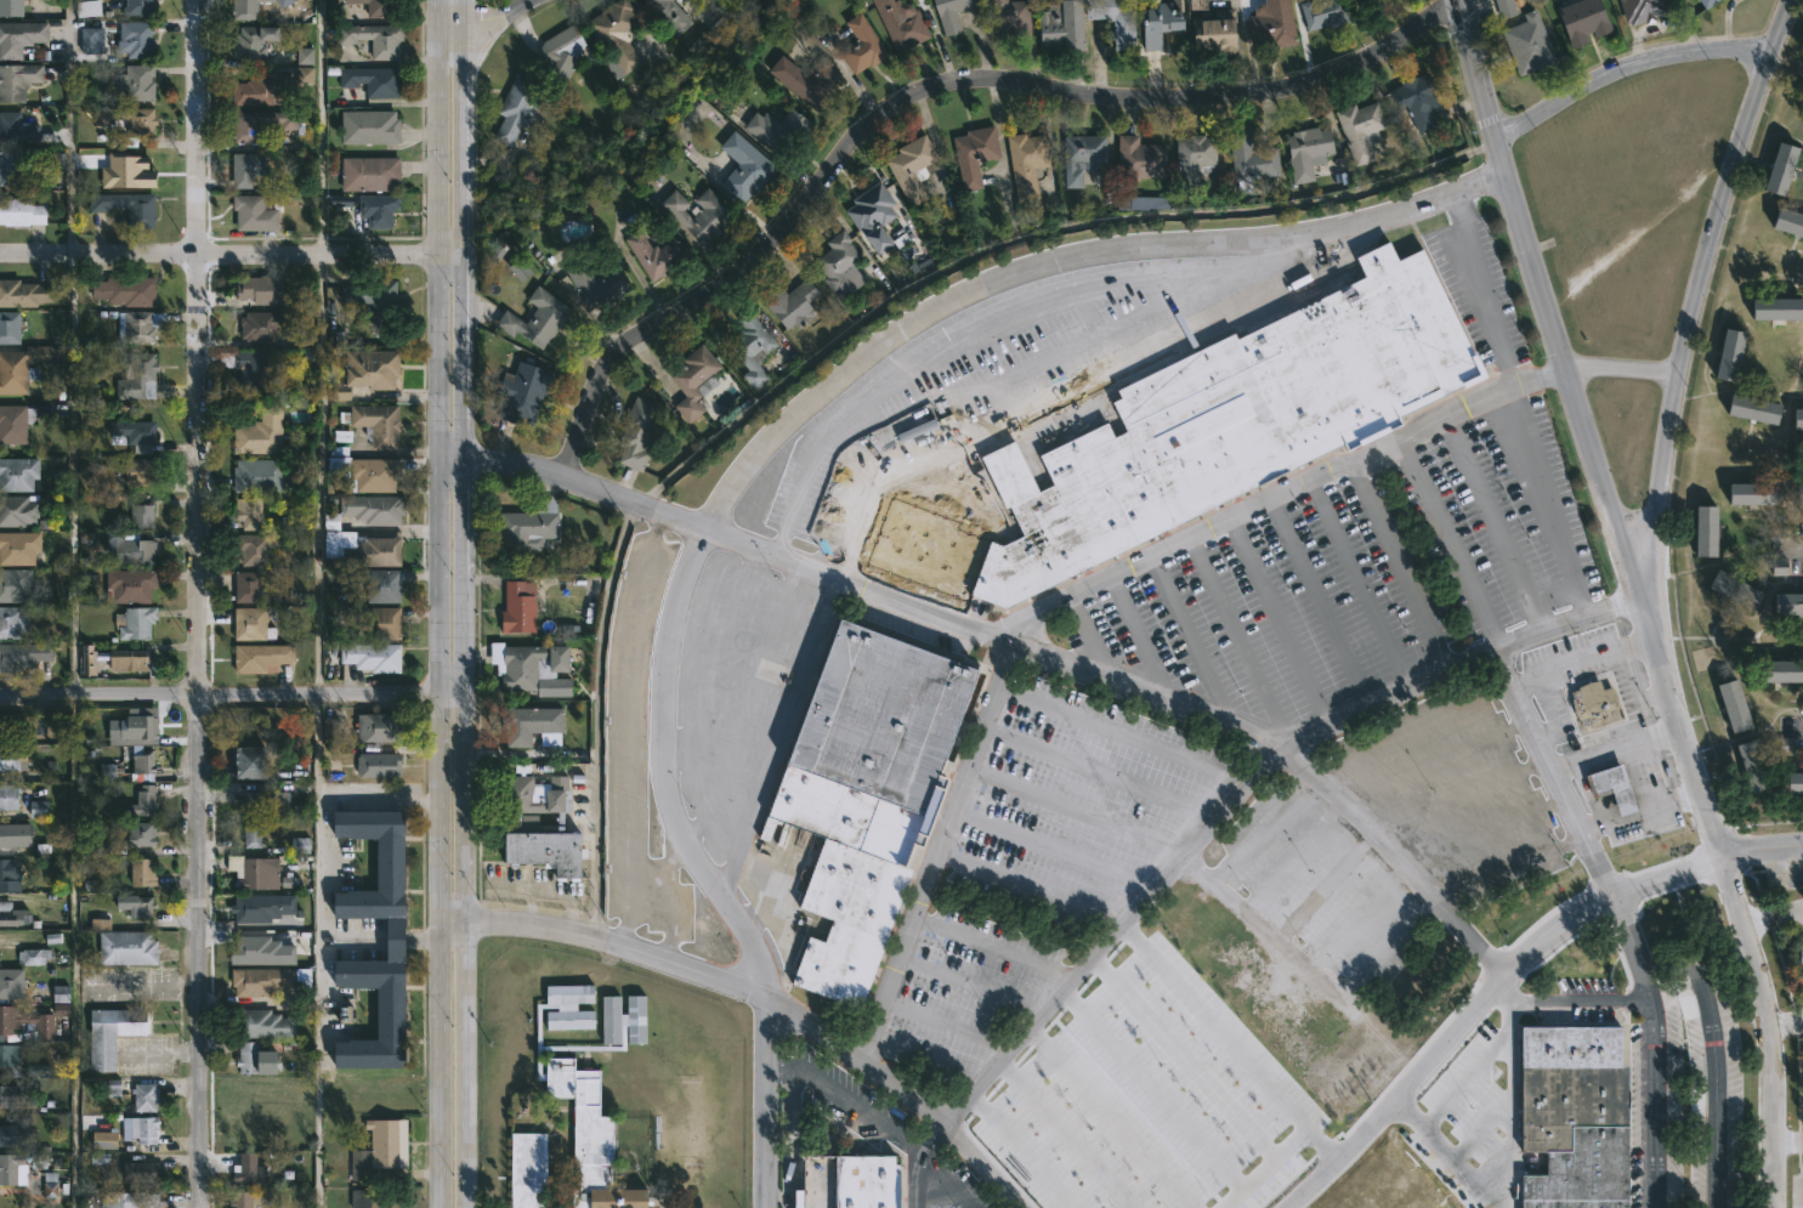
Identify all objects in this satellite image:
road: (1463, 1)
building: (1703, 2)
building: (142, 6)
building: (382, 7)
building: (12, 8)
building: (87, 8)
building: (254, 8)
building: (1502, 8)
building: (1640, 10)
building: (669, 13)
building: (948, 13)
building: (1319, 13)
building: (1007, 17)
building: (1112, 18)
building: (1580, 21)
road: (497, 23)
building: (1059, 24)
building: (1153, 24)
building: (896, 25)
building: (1268, 25)
building: (616, 33)
building: (1210, 33)
building: (21, 38)
building: (138, 39)
building: (376, 39)
building: (91, 41)
building: (255, 41)
building: (856, 42)
building: (1525, 45)
building: (563, 52)
building: (304, 56)
road: (1623, 63)
building: (803, 79)
building: (373, 80)
building: (18, 81)
building: (141, 84)
road: (924, 86)
building: (255, 92)
building: (1416, 102)
building: (520, 108)
building: (130, 120)
building: (262, 124)
road: (68, 126)
road: (321, 126)
building: (372, 126)
road: (453, 126)
building: (17, 129)
building: (777, 129)
building: (1356, 130)
building: (1304, 152)
building: (970, 154)
building: (1081, 155)
building: (1135, 159)
building: (1190, 161)
building: (1247, 161)
building: (1021, 164)
building: (25, 165)
building: (743, 166)
building: (907, 168)
building: (1779, 168)
building: (250, 169)
building: (372, 174)
road: (1486, 180)
building: (1149, 203)
building: (143, 210)
building: (380, 210)
building: (22, 212)
building: (256, 214)
building: (696, 214)
building: (871, 216)
building: (1787, 222)
road: (1030, 237)
road: (226, 254)
building: (654, 254)
building: (835, 266)
building: (602, 280)
road: (1482, 289)
road: (1695, 290)
building: (127, 291)
building: (263, 291)
building: (24, 294)
building: (378, 297)
building: (789, 302)
building: (1775, 308)
building: (537, 319)
road: (986, 321)
building: (141, 327)
building: (261, 327)
building: (11, 328)
building: (750, 348)
building: (1724, 357)
building: (25, 367)
building: (253, 372)
building: (370, 373)
building: (141, 378)
road: (1081, 379)
building: (692, 380)
building: (526, 395)
building: (1753, 409)
building: (1797, 419)
building: (16, 424)
building: (376, 424)
road: (1581, 430)
building: (637, 432)
building: (262, 433)
building: (137, 435)
building: (1196, 435)
road: (866, 449)
road: (750, 464)
road: (73, 472)
building: (141, 472)
road: (318, 472)
building: (19, 475)
building: (375, 475)
building: (260, 477)
building: (1748, 495)
building: (1797, 495)
road: (1543, 501)
road: (840, 507)
building: (19, 509)
building: (369, 511)
building: (251, 514)
building: (143, 515)
building: (582, 522)
road: (1490, 523)
building: (532, 527)
building: (1702, 533)
road: (1445, 541)
road: (1797, 546)
building: (19, 549)
building: (256, 549)
building: (363, 551)
building: (144, 552)
road: (1396, 563)
road: (1132, 567)
road: (1356, 582)
road: (454, 585)
building: (16, 586)
building: (132, 586)
building: (385, 586)
building: (260, 589)
building: (1731, 591)
road: (1316, 600)
road: (197, 603)
building: (1786, 605)
building: (521, 606)
road: (1275, 620)
building: (13, 623)
building: (136, 623)
building: (386, 623)
building: (254, 625)
road: (1094, 637)
road: (1240, 639)
road: (1140, 640)
road: (1019, 641)
road: (1191, 643)
road: (713, 646)
building: (374, 656)
building: (23, 657)
building: (115, 659)
building: (262, 659)
road: (1580, 660)
building: (534, 667)
building: (1776, 674)
road: (1382, 692)
road: (226, 693)
road: (1519, 699)
road: (742, 702)
building: (1589, 703)
building: (1728, 705)
road: (1548, 710)
building: (532, 724)
building: (22, 725)
building: (141, 726)
building: (381, 726)
building: (330, 728)
road: (626, 730)
road: (777, 732)
road: (1119, 733)
road: (1615, 748)
road: (692, 752)
building: (12, 758)
building: (251, 762)
building: (1748, 764)
building: (379, 765)
building: (143, 767)
road: (1096, 775)
building: (1793, 783)
building: (1608, 787)
building: (864, 794)
road: (1586, 794)
building: (8, 796)
road: (385, 798)
building: (535, 798)
building: (267, 801)
building: (143, 803)
building: (38, 809)
road: (1075, 810)
road: (1640, 813)
building: (143, 834)
building: (254, 834)
building: (11, 835)
road: (719, 835)
building: (300, 845)
road: (1053, 849)
road: (1764, 849)
building: (550, 850)
building: (143, 870)
building: (257, 870)
building: (10, 874)
road: (1028, 889)
road: (669, 897)
building: (136, 906)
building: (263, 907)
building: (13, 914)
road: (1773, 914)
road: (385, 935)
road: (1269, 935)
road: (1111, 936)
building: (393, 937)
building: (125, 947)
road: (1629, 947)
road: (993, 949)
building: (263, 951)
road: (316, 951)
building: (1798, 955)
building: (32, 957)
road: (1674, 964)
building: (263, 980)
building: (12, 983)
road: (971, 986)
building: (573, 993)
road: (1480, 994)
road: (1565, 1002)
road: (773, 1003)
building: (567, 1020)
building: (623, 1021)
building: (33, 1022)
road: (1782, 1022)
building: (267, 1023)
road: (948, 1026)
road: (1764, 1028)
building: (110, 1033)
building: (250, 1057)
road: (1183, 1057)
building: (11, 1060)
road: (454, 1064)
road: (926, 1064)
road: (1252, 1071)
road: (1465, 1077)
building: (112, 1087)
road: (1151, 1089)
road: (1716, 1094)
building: (8, 1095)
building: (147, 1096)
road: (1655, 1104)
building: (1697, 1107)
building: (1574, 1116)
road: (868, 1117)
road: (1111, 1118)
building: (141, 1128)
road: (1480, 1130)
building: (17, 1133)
road: (1066, 1135)
road: (934, 1138)
road: (1786, 1138)
building: (107, 1139)
building: (590, 1139)
road: (1321, 1145)
building: (384, 1147)
road: (1020, 1151)
road: (1507, 1157)
building: (526, 1166)
building: (13, 1169)
building: (248, 1169)
building: (144, 1170)
building: (846, 1181)
road: (946, 1181)
building: (50, 1190)
building: (246, 1198)
building: (359, 1198)
building: (135, 1200)

